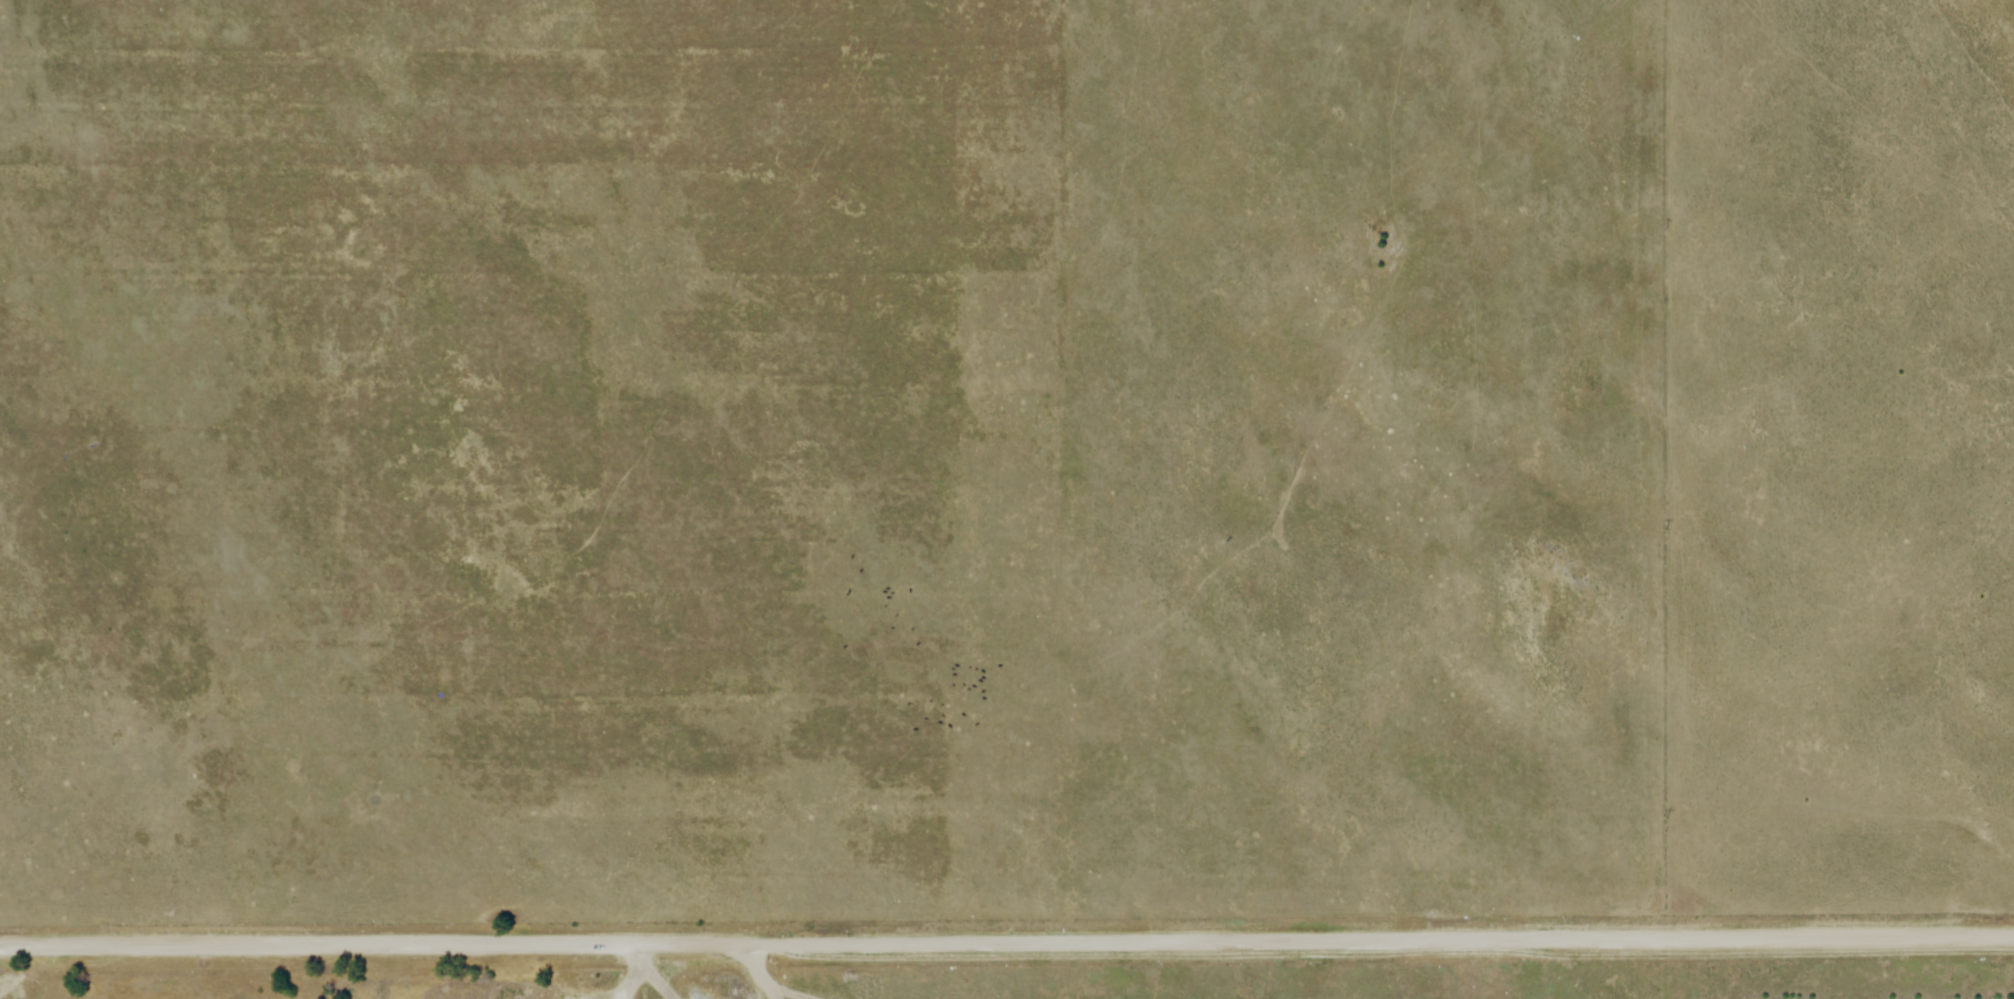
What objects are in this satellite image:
road: (1006, 937)

